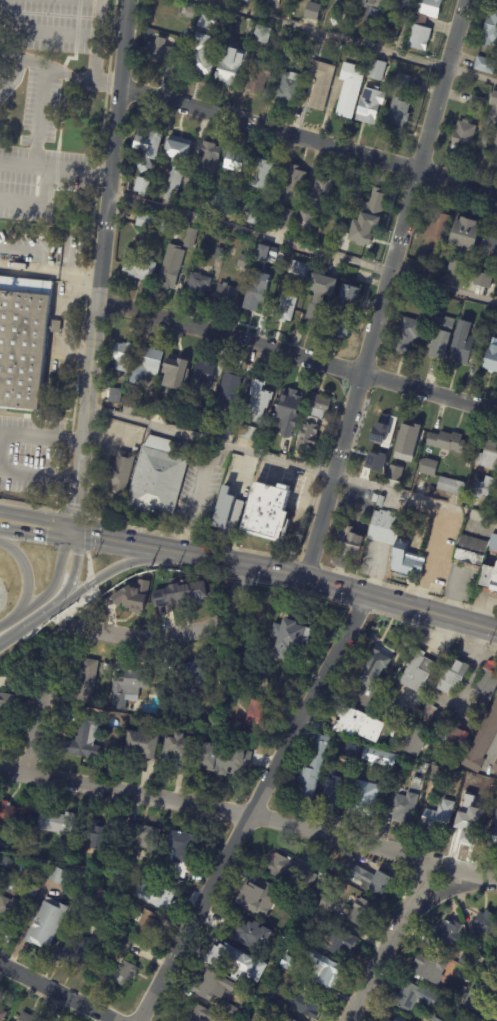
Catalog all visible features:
building: (244, 1)
building: (273, 3)
building: (368, 4)
building: (401, 6)
building: (312, 12)
building: (191, 14)
building: (207, 22)
building: (376, 23)
building: (253, 24)
building: (423, 25)
building: (490, 27)
building: (387, 32)
building: (261, 36)
road: (347, 40)
building: (159, 45)
building: (287, 53)
road: (24, 59)
building: (202, 60)
building: (229, 65)
building: (484, 65)
building: (280, 69)
building: (376, 70)
building: (409, 71)
road: (11, 75)
building: (279, 75)
road: (43, 78)
building: (258, 78)
building: (402, 82)
building: (320, 85)
building: (288, 88)
building: (349, 91)
building: (493, 97)
building: (476, 102)
building: (369, 105)
building: (397, 116)
building: (463, 136)
road: (307, 139)
building: (147, 142)
building: (494, 144)
building: (208, 159)
road: (54, 163)
building: (234, 163)
building: (142, 165)
building: (174, 166)
building: (260, 175)
building: (190, 181)
building: (141, 185)
building: (355, 196)
building: (287, 197)
road: (40, 201)
building: (233, 203)
building: (202, 204)
building: (315, 204)
building: (216, 209)
building: (255, 215)
building: (367, 220)
building: (145, 222)
building: (438, 231)
building: (465, 234)
building: (489, 240)
building: (190, 245)
road: (302, 246)
building: (199, 252)
building: (266, 254)
building: (218, 255)
building: (279, 258)
building: (245, 262)
building: (137, 265)
road: (100, 267)
building: (456, 268)
building: (298, 270)
building: (169, 273)
road: (49, 274)
building: (483, 280)
building: (197, 286)
road: (383, 288)
building: (226, 294)
building: (254, 298)
building: (318, 299)
building: (347, 309)
building: (284, 310)
building: (466, 313)
building: (408, 335)
building: (440, 336)
building: (25, 343)
building: (462, 344)
building: (121, 356)
road: (297, 356)
building: (491, 359)
building: (144, 365)
building: (176, 366)
building: (202, 377)
building: (230, 389)
building: (115, 395)
building: (129, 400)
building: (259, 400)
building: (205, 410)
building: (288, 411)
building: (313, 422)
building: (227, 428)
building: (382, 429)
building: (410, 429)
building: (250, 434)
road: (31, 435)
building: (446, 442)
building: (487, 455)
building: (375, 462)
building: (400, 462)
road: (291, 463)
building: (428, 467)
building: (118, 473)
building: (394, 473)
road: (39, 475)
building: (156, 478)
building: (450, 486)
building: (483, 487)
road: (198, 497)
building: (380, 501)
building: (227, 511)
building: (269, 513)
road: (38, 518)
building: (419, 521)
road: (36, 534)
traffic signals: (74, 536)
building: (433, 539)
road: (119, 543)
building: (349, 543)
building: (394, 543)
building: (478, 558)
road: (72, 571)
road: (107, 571)
road: (24, 576)
road: (54, 583)
road: (331, 585)
road: (90, 590)
building: (177, 595)
building: (133, 597)
road: (7, 621)
road: (28, 623)
road: (102, 633)
building: (289, 639)
building: (372, 668)
building: (417, 671)
building: (452, 674)
building: (193, 675)
building: (225, 677)
building: (83, 680)
building: (127, 688)
building: (484, 689)
building: (157, 692)
building: (144, 716)
building: (255, 716)
building: (4, 722)
building: (357, 722)
building: (419, 730)
building: (454, 739)
building: (481, 740)
building: (83, 741)
road: (493, 744)
building: (142, 745)
building: (348, 749)
building: (180, 750)
building: (445, 755)
building: (377, 756)
building: (227, 764)
building: (426, 766)
building: (495, 766)
building: (312, 768)
building: (436, 771)
building: (469, 777)
building: (328, 789)
building: (364, 797)
road: (251, 806)
building: (402, 806)
building: (469, 813)
road: (250, 815)
building: (437, 816)
building: (13, 817)
building: (56, 824)
building: (99, 835)
building: (143, 836)
building: (494, 837)
building: (180, 853)
building: (58, 856)
building: (5, 865)
building: (289, 870)
building: (57, 877)
building: (369, 880)
building: (89, 890)
building: (30, 893)
road: (441, 893)
building: (102, 896)
building: (258, 896)
building: (159, 897)
building: (352, 897)
building: (327, 903)
building: (119, 904)
building: (363, 910)
building: (8, 911)
building: (320, 918)
building: (484, 923)
building: (45, 924)
building: (145, 926)
building: (283, 928)
building: (447, 934)
building: (252, 935)
road: (388, 942)
building: (475, 942)
building: (123, 943)
building: (340, 943)
building: (496, 946)
building: (72, 952)
building: (288, 957)
building: (466, 961)
building: (236, 962)
building: (429, 967)
building: (327, 971)
building: (489, 971)
building: (118, 975)
building: (210, 985)
road: (61, 991)
building: (459, 994)
building: (413, 996)
building: (274, 998)
building: (471, 999)
building: (305, 1005)
building: (494, 1005)
building: (230, 1011)
building: (2, 1015)
building: (201, 1015)
building: (391, 1016)
building: (25, 1017)
building: (286, 1019)
building: (435, 1019)
building: (278, 1020)

